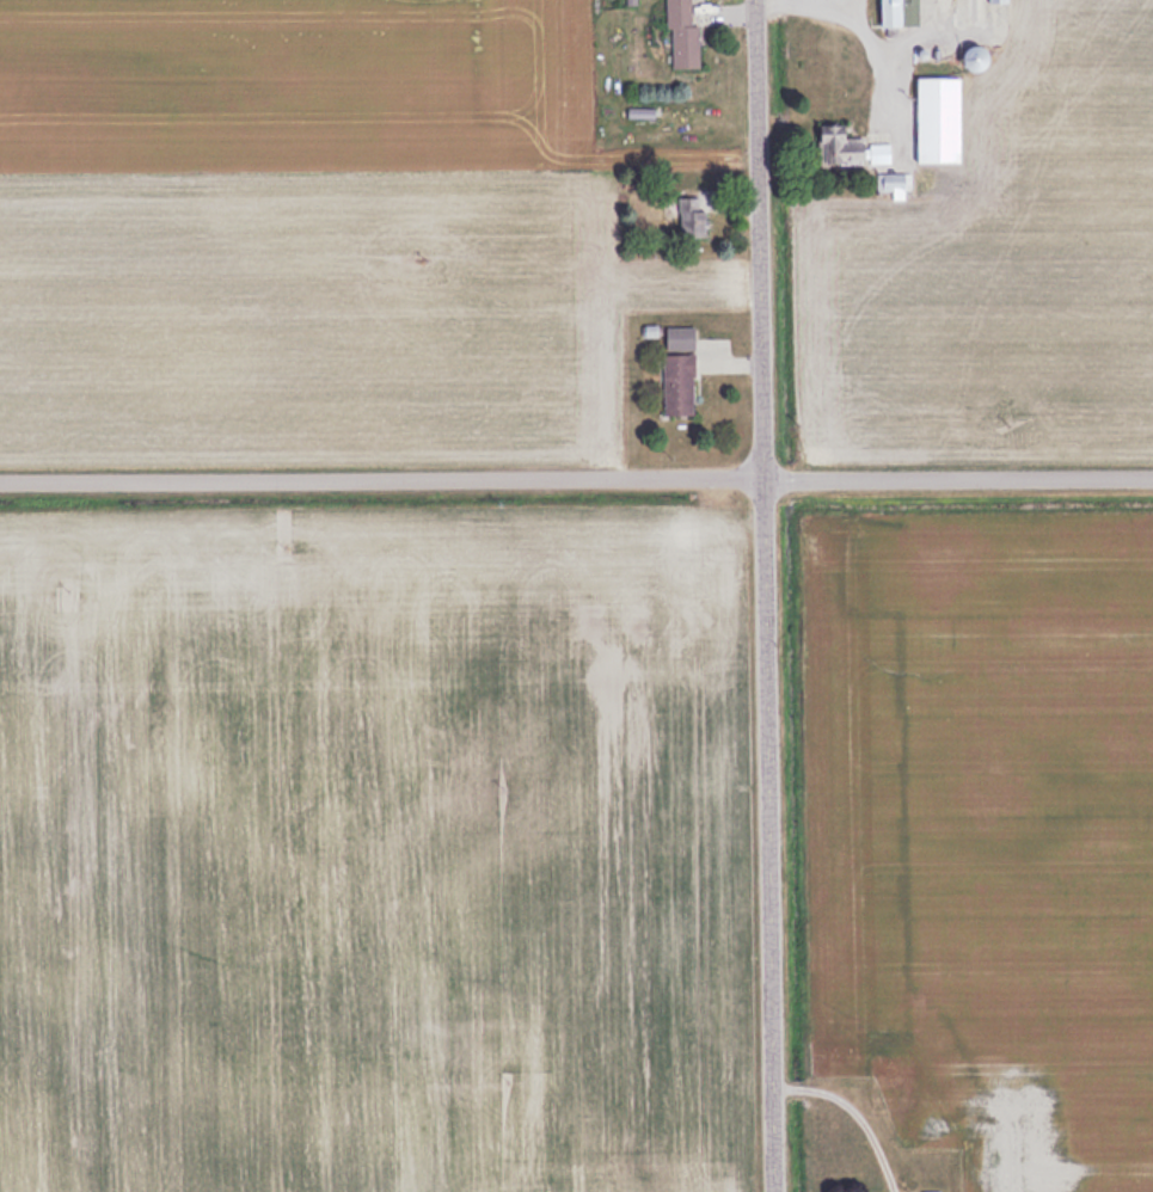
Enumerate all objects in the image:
building: (996, 0)
road: (848, 6)
building: (971, 8)
building: (896, 12)
building: (681, 35)
road: (873, 42)
building: (937, 119)
building: (835, 145)
building: (878, 152)
building: (894, 183)
building: (689, 215)
building: (677, 337)
building: (675, 382)
road: (576, 485)
road: (767, 595)
building: (885, 1086)
building: (933, 1143)
building: (930, 1191)

